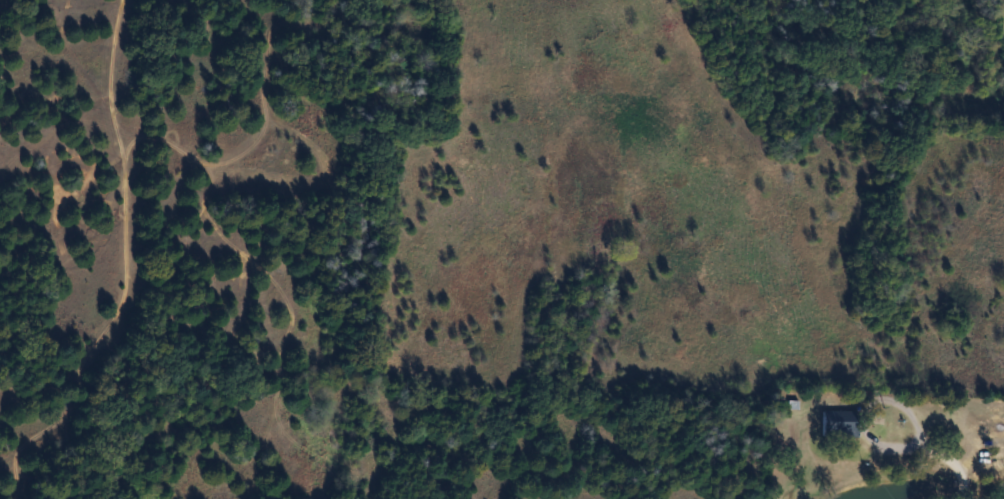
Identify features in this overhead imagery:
building: (840, 425)
road: (933, 449)

